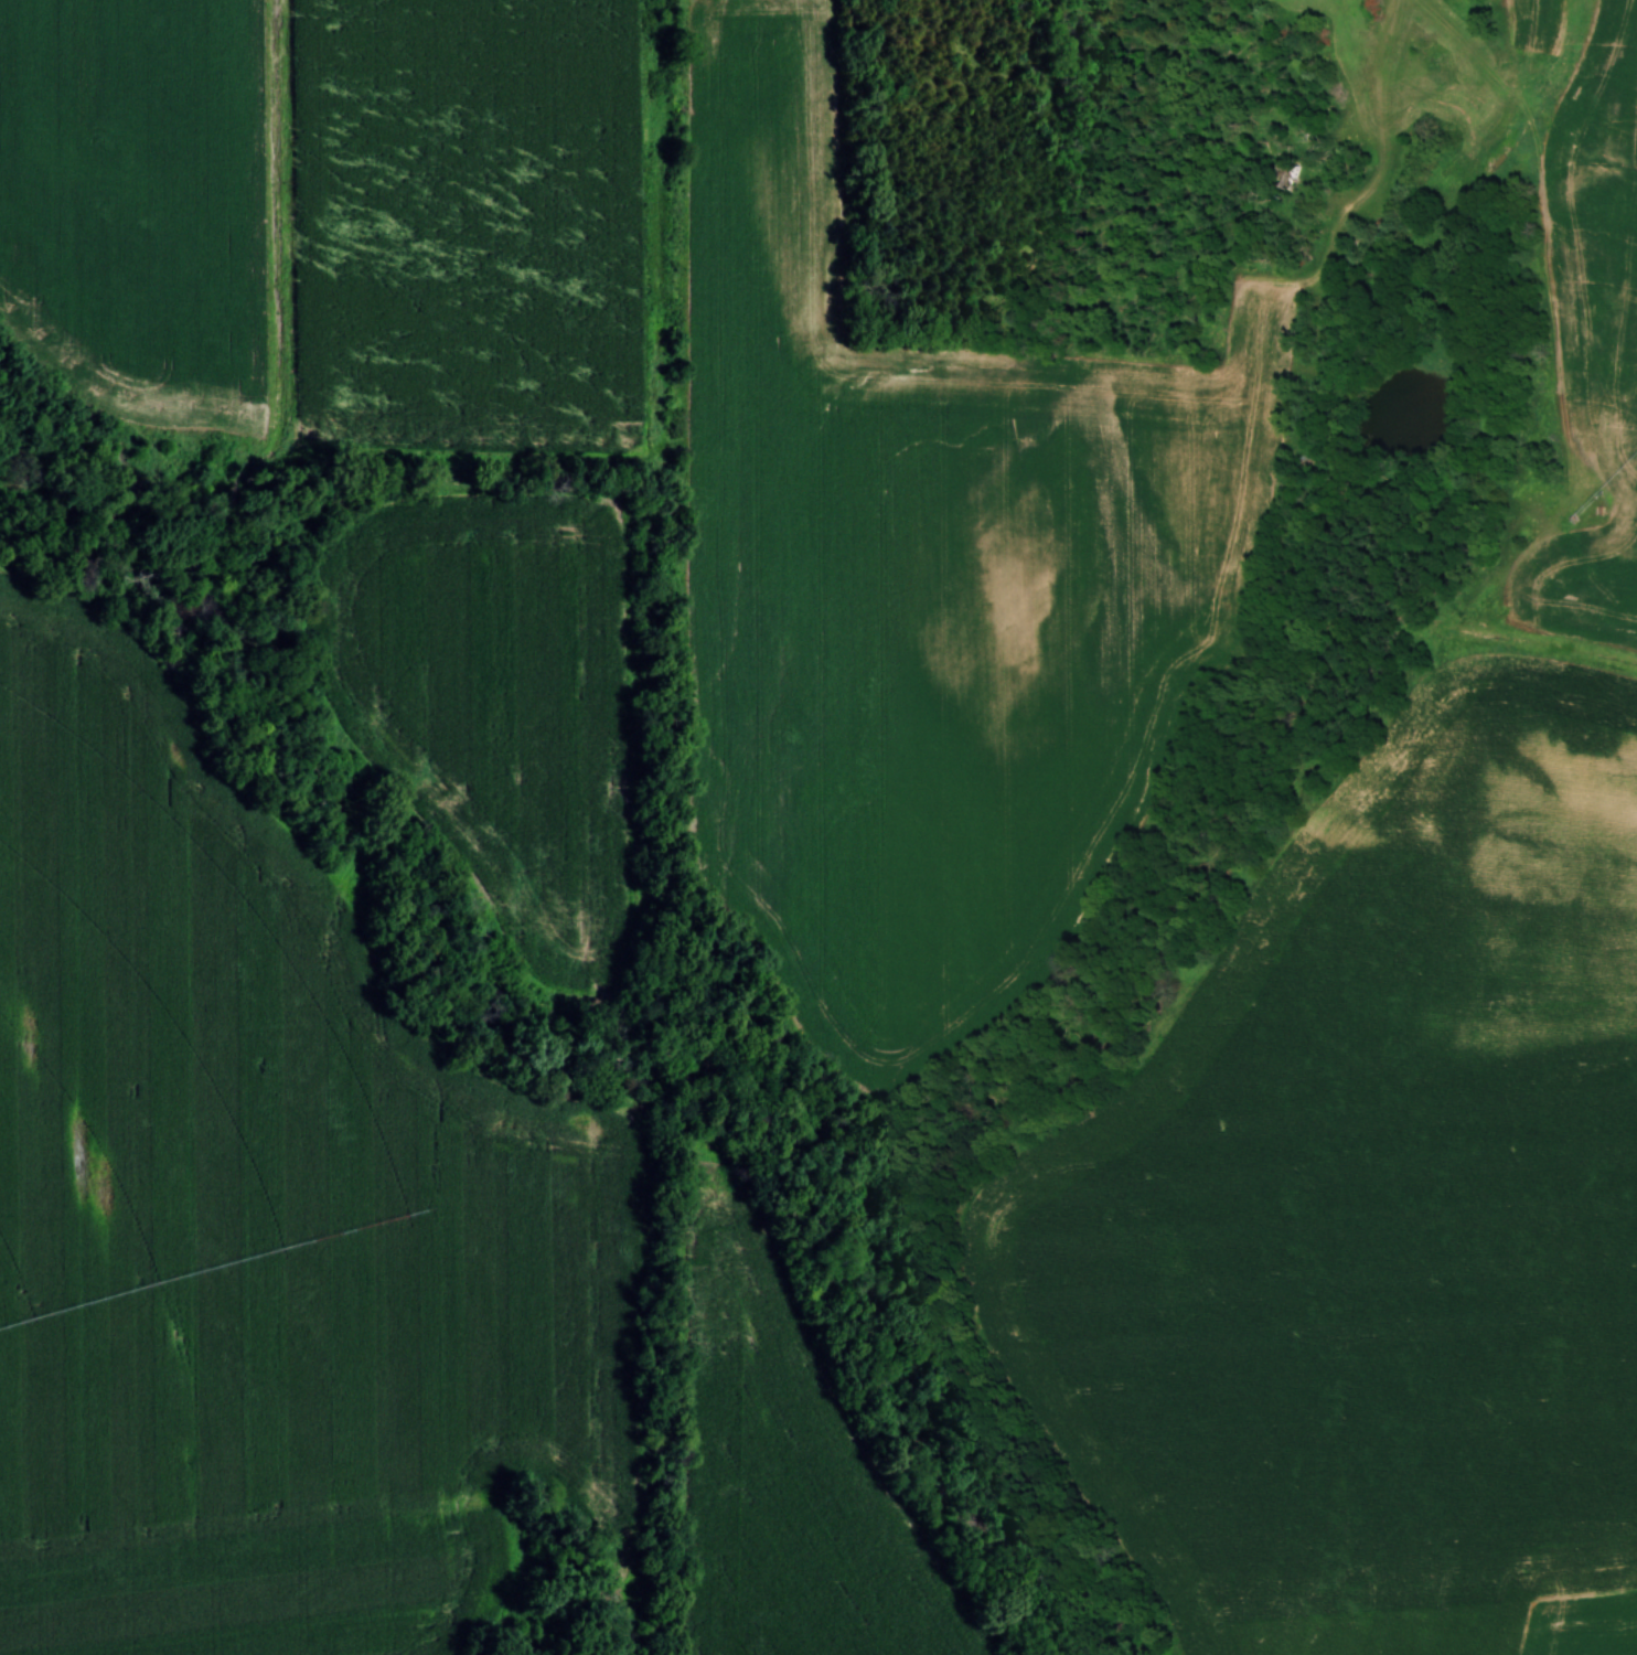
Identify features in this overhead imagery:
building: (1286, 175)

